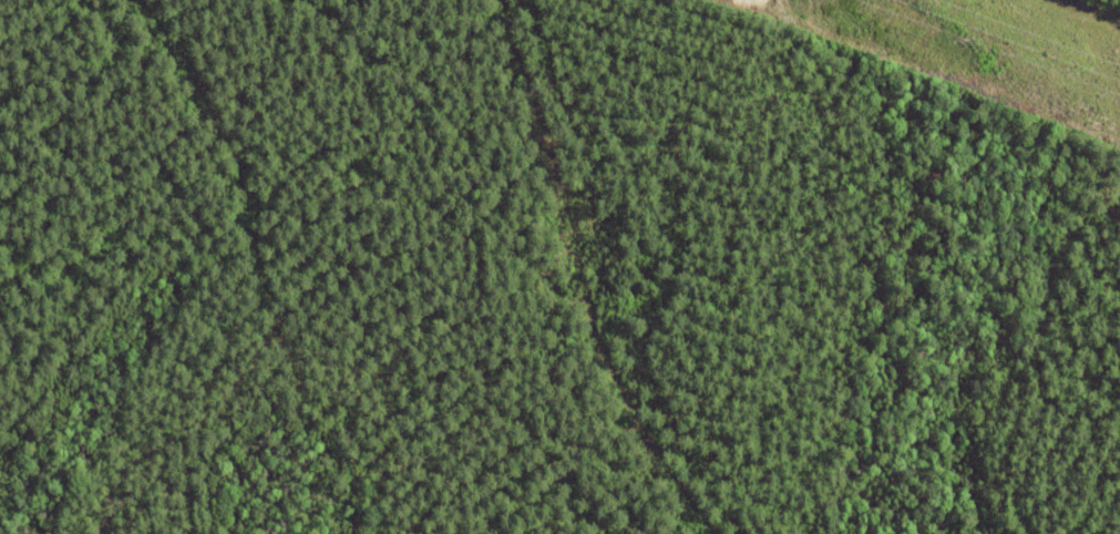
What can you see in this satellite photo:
road: (589, 278)

